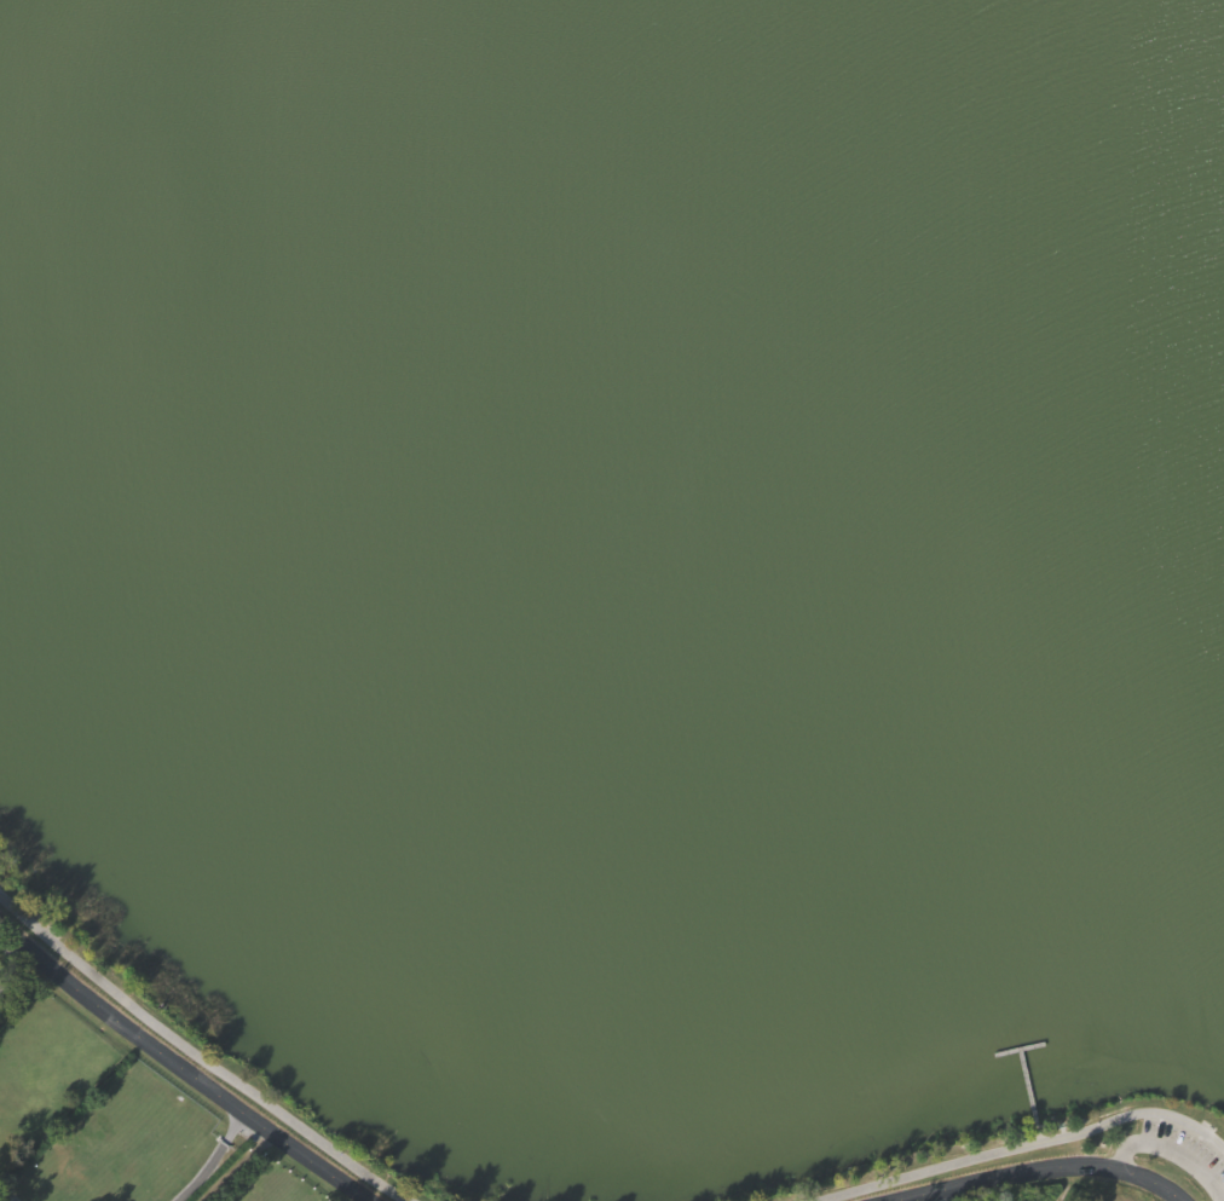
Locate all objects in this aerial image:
park: (627, 577)
road: (5, 960)
pier: (1018, 1049)
road: (196, 1057)
road: (180, 1067)
pier: (1027, 1089)
road: (1039, 1136)
parking lot: (1185, 1147)
road: (1022, 1148)
road: (1171, 1153)
road: (208, 1157)
road: (1041, 1172)
road: (934, 1197)

